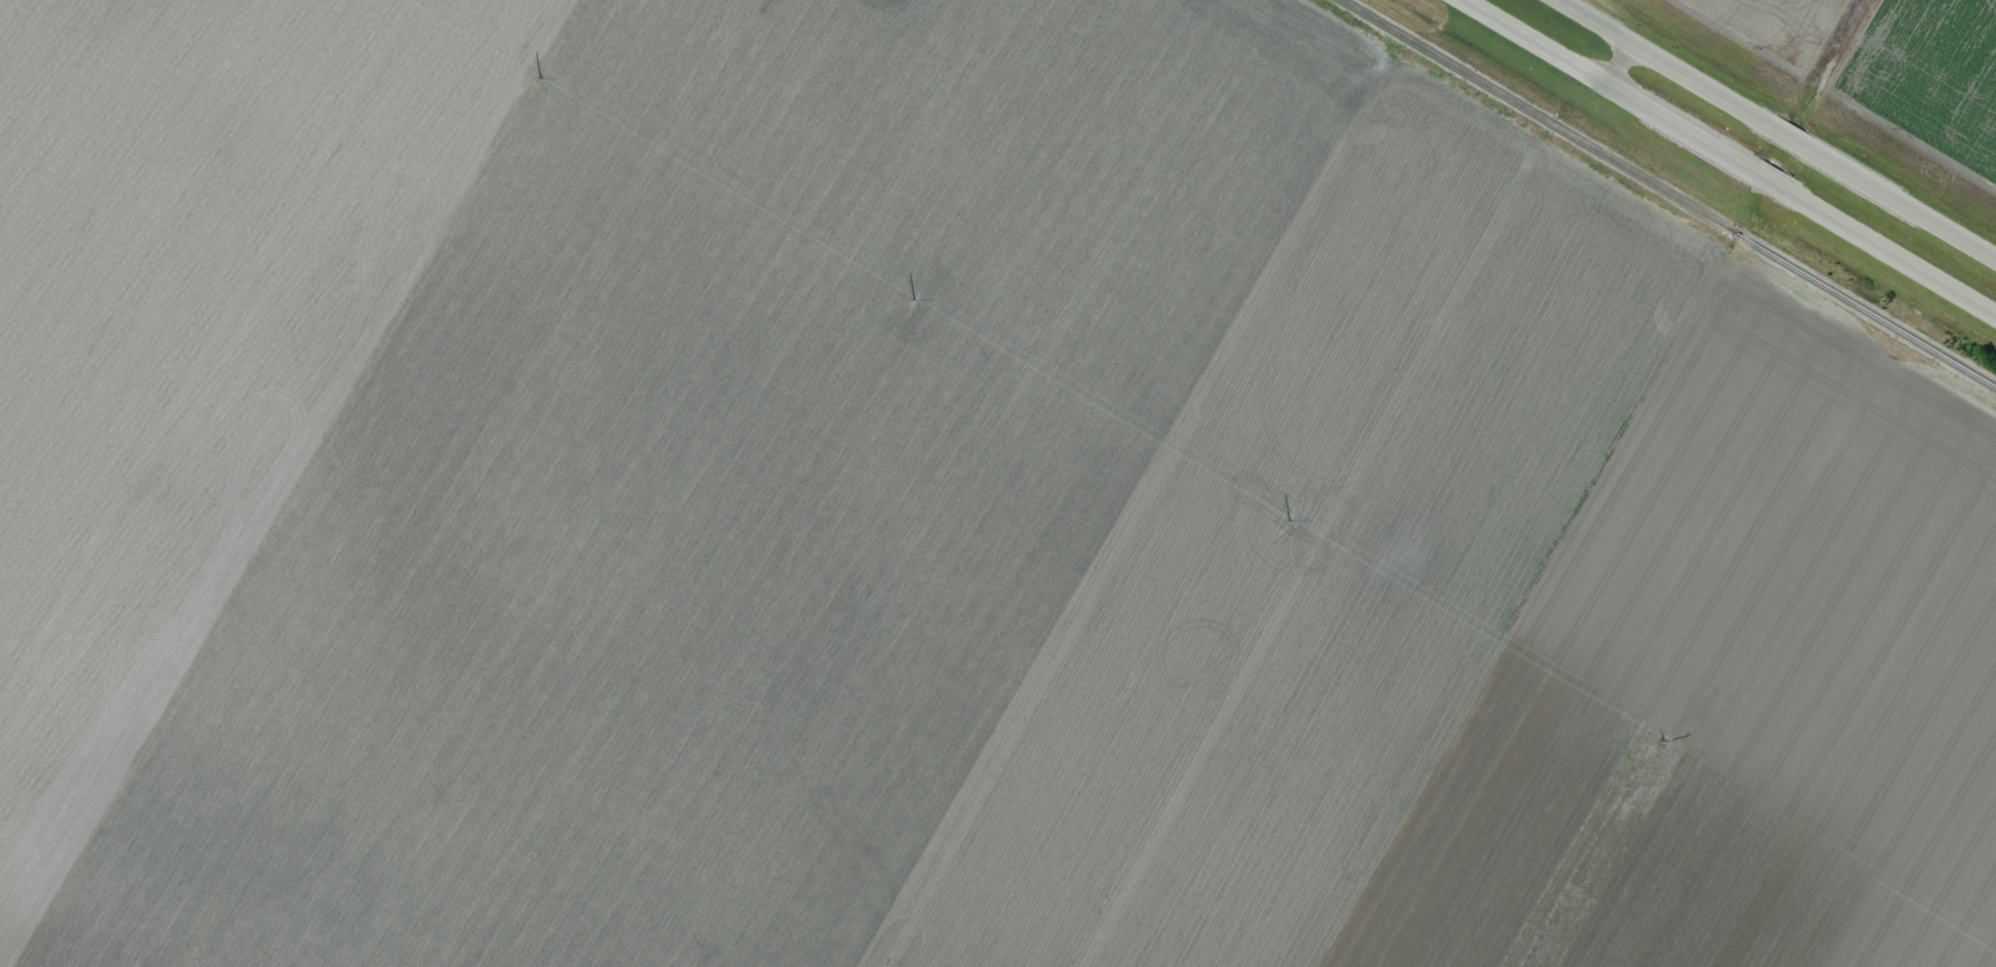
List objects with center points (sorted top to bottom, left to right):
power tower: (539, 79)
road: (1773, 130)
road: (1727, 157)
railway: (1669, 193)
power tower: (913, 300)
power tower: (1287, 522)
power tower: (1662, 743)

